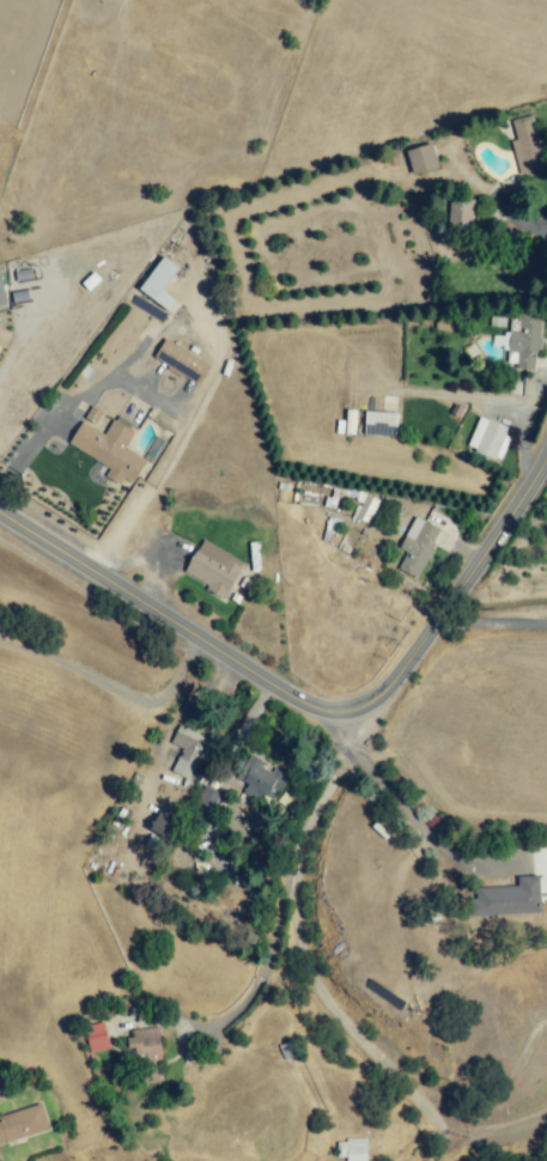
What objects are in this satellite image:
building: (525, 145)
building: (421, 159)
building: (461, 213)
building: (159, 284)
building: (1, 294)
building: (147, 309)
building: (525, 342)
building: (181, 361)
road: (158, 400)
building: (92, 414)
road: (522, 420)
building: (379, 424)
building: (488, 438)
building: (109, 449)
building: (365, 509)
building: (332, 525)
building: (417, 546)
crop: (518, 559)
building: (212, 567)
road: (496, 615)
road: (116, 691)
road: (328, 706)
building: (193, 750)
building: (262, 780)
building: (206, 802)
road: (424, 816)
building: (164, 822)
road: (286, 865)
building: (509, 898)
road: (323, 1001)
building: (96, 1037)
building: (144, 1043)
building: (22, 1123)
building: (351, 1149)

